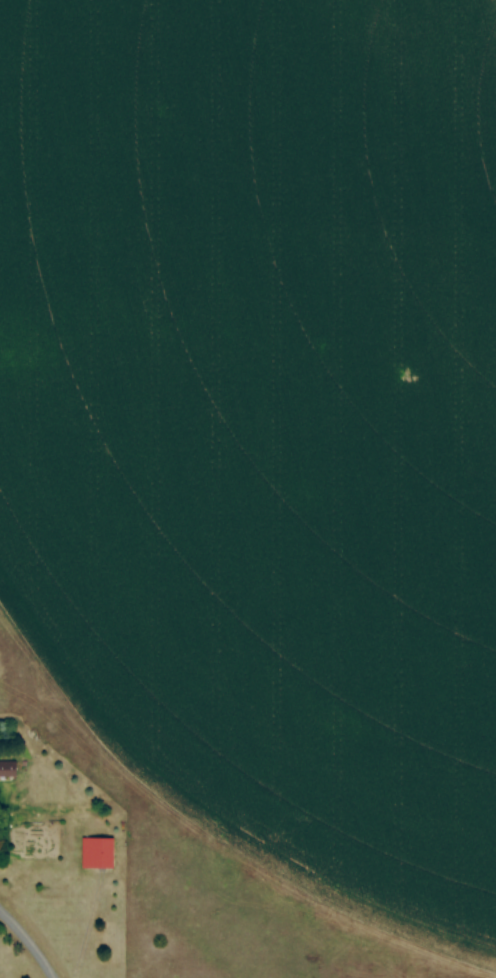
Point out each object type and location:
building: (10, 770)

